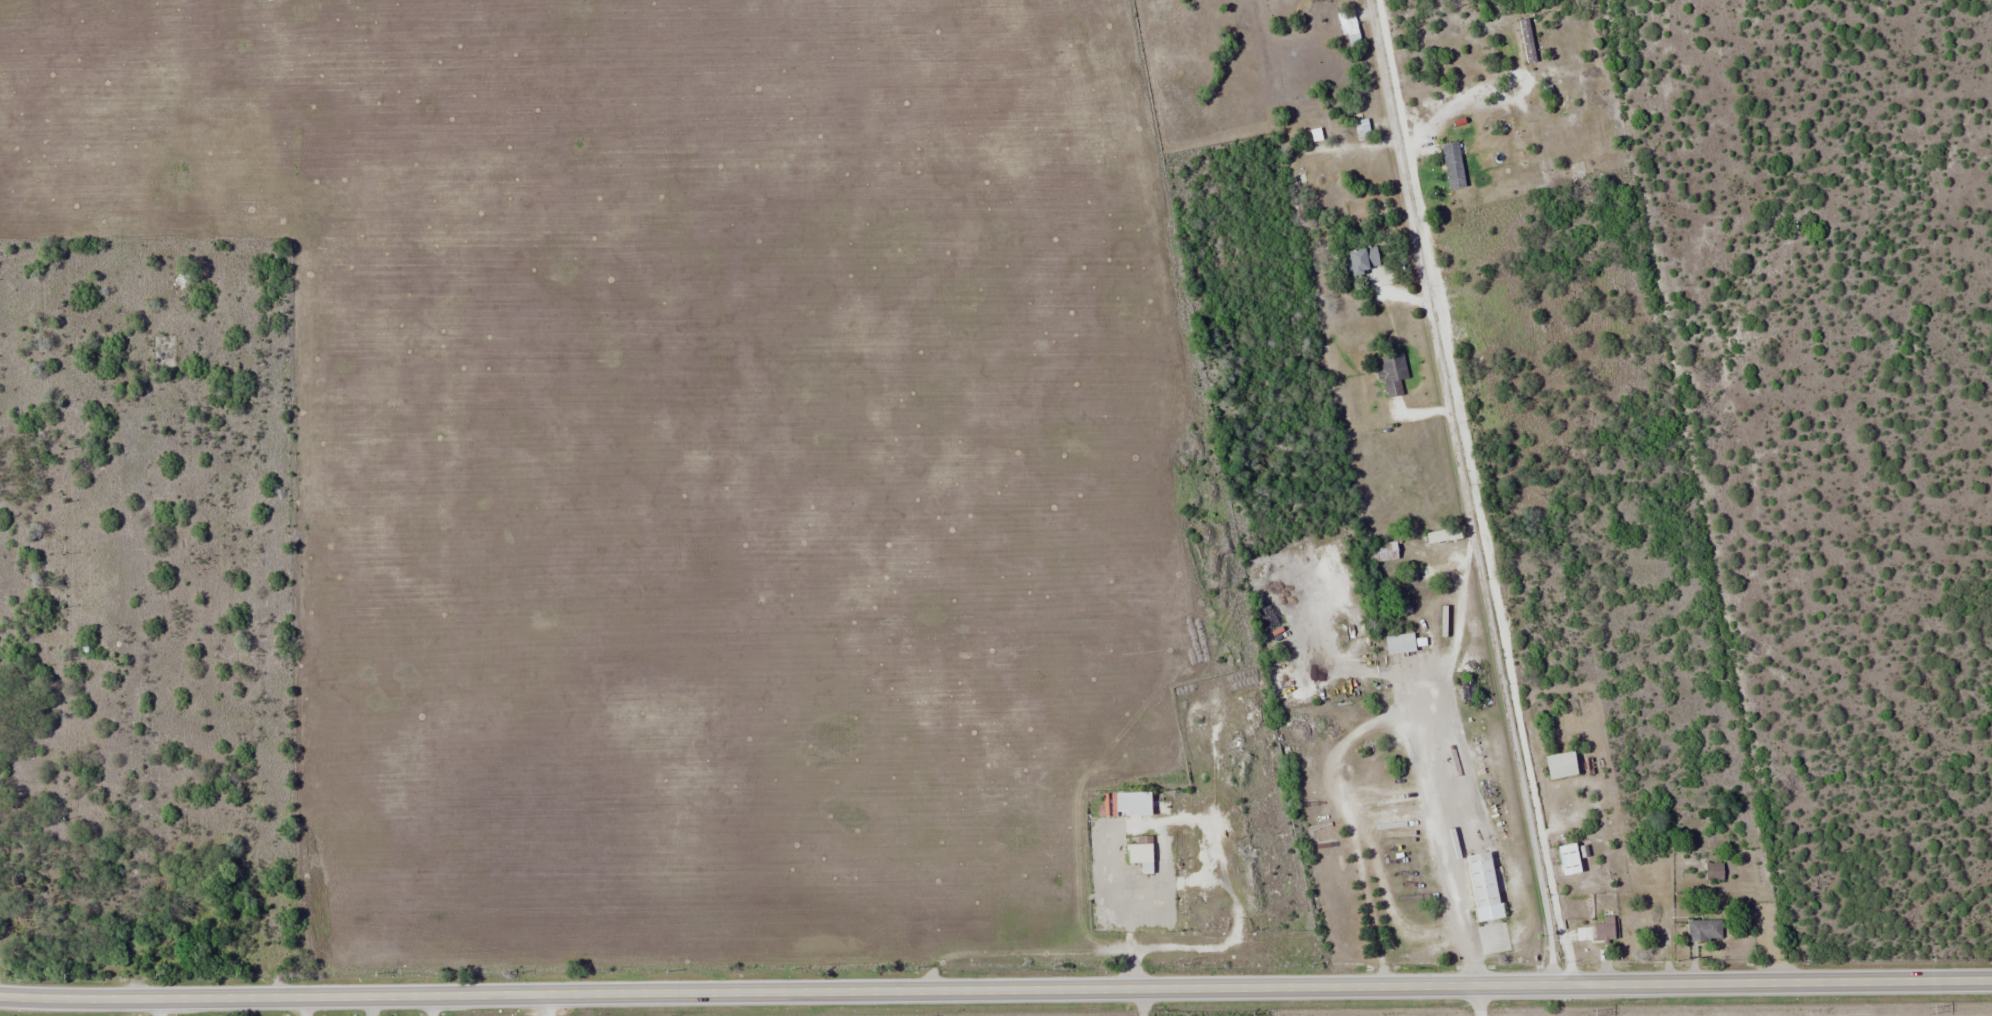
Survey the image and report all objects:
building: (1349, 28)
building: (1527, 41)
road: (1461, 94)
building: (1453, 165)
building: (1364, 260)
building: (1393, 373)
road: (1462, 492)
road: (1475, 492)
building: (1385, 550)
building: (1400, 643)
building: (1562, 765)
building: (1134, 804)
building: (1142, 854)
building: (1570, 860)
building: (1714, 872)
building: (1484, 887)
building: (1704, 930)
building: (1604, 932)
road: (995, 990)
road: (1140, 1002)
road: (433, 1005)
road: (548, 1005)
road: (308, 1006)
road: (160, 1007)
power tower: (1928, 1011)
power tower: (1589, 1013)
power tower: (1249, 1015)

